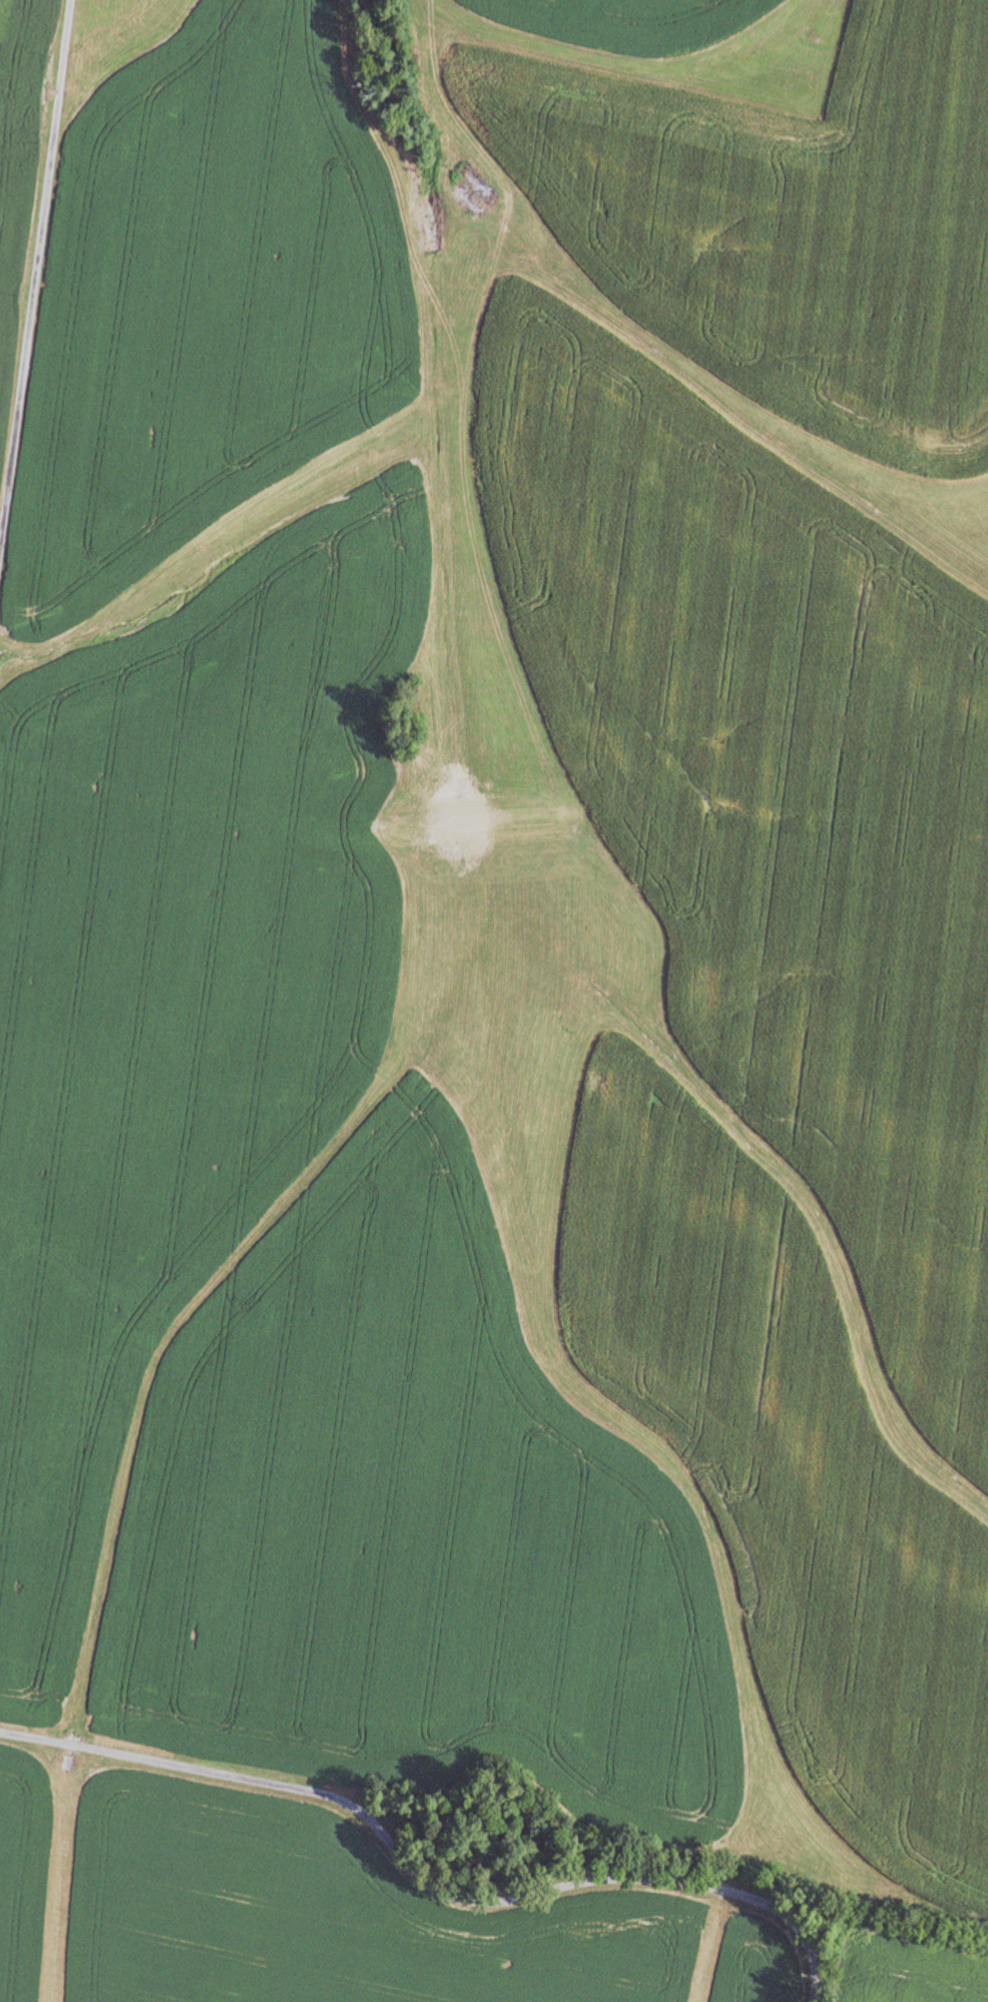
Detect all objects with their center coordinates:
road: (37, 284)
road: (426, 1881)

